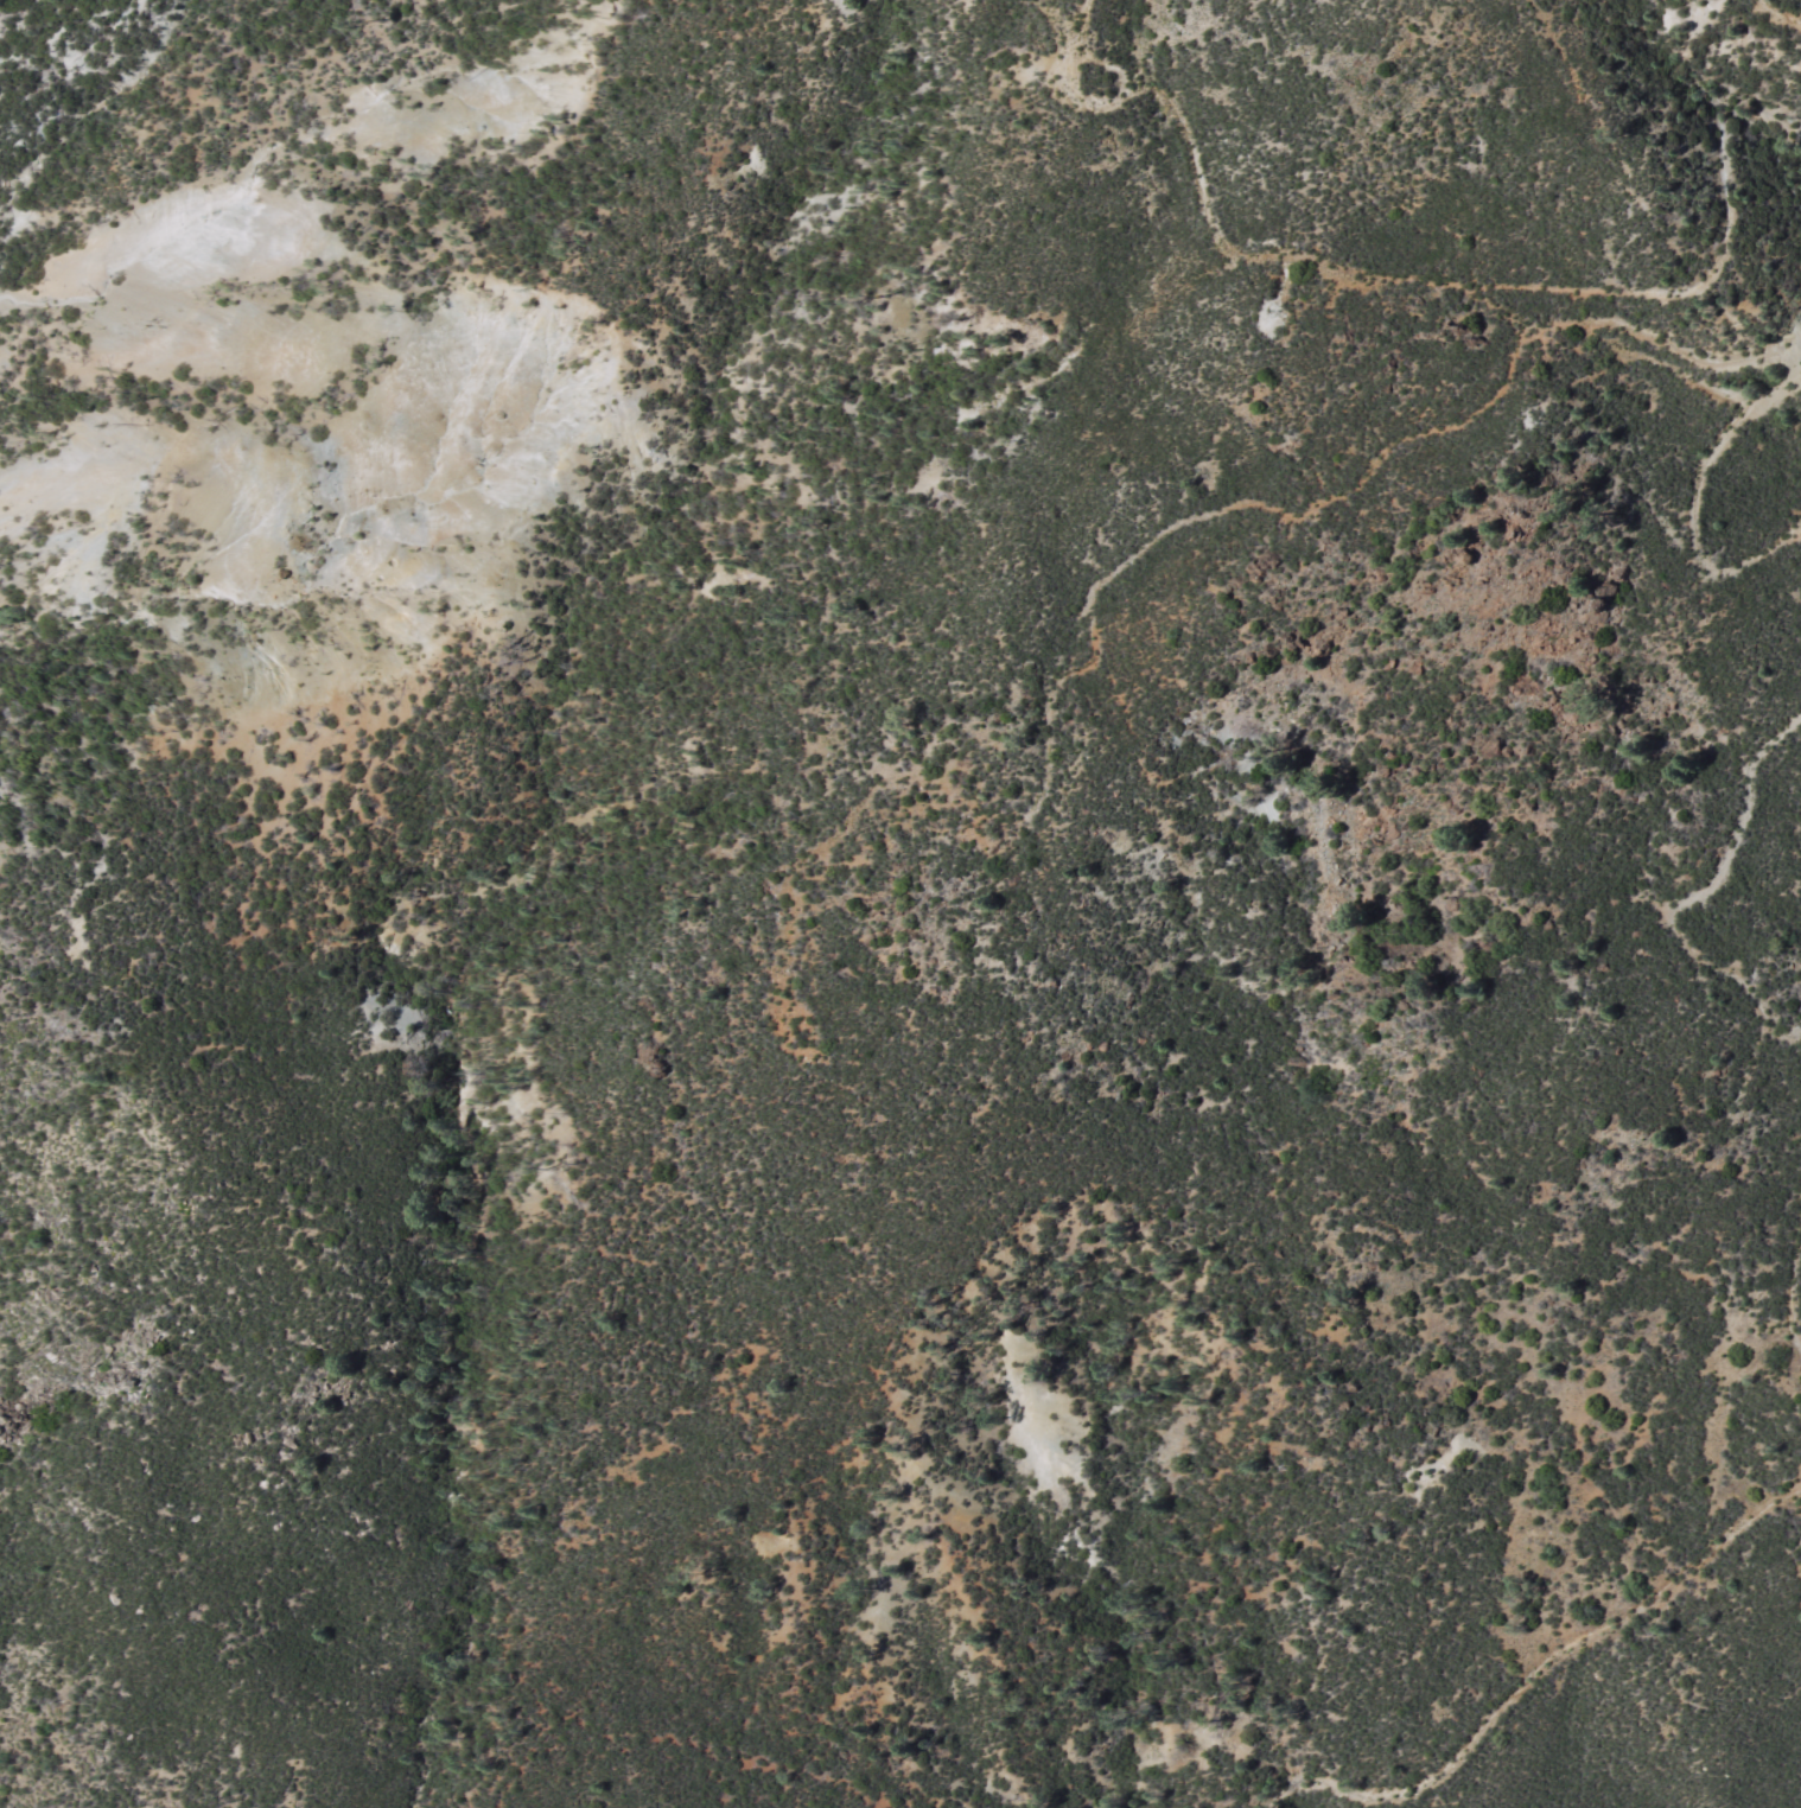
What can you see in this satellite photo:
quarry: (1697, 172)

